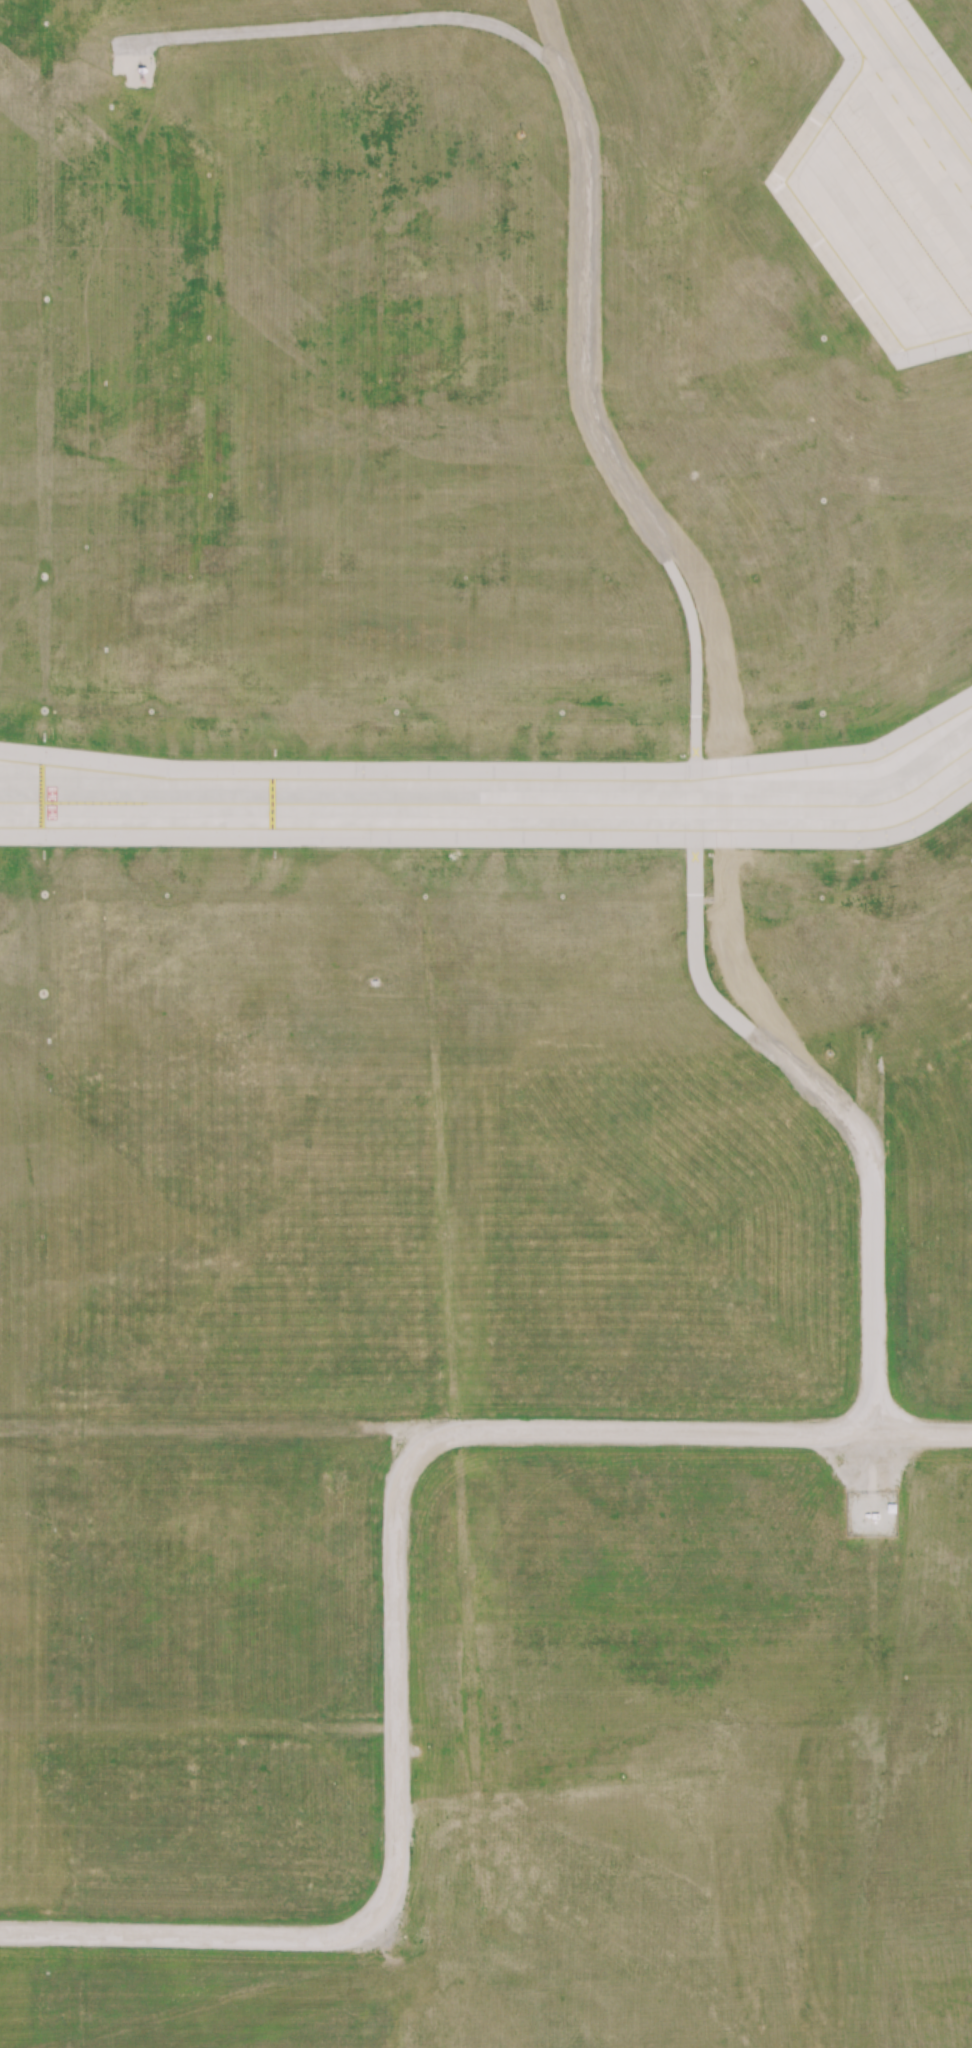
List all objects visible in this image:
airport taxiway: (918, 75)
airport apron: (894, 200)
road: (662, 551)
airport taxiway: (494, 804)
airport: (486, 1024)
road: (397, 1593)

